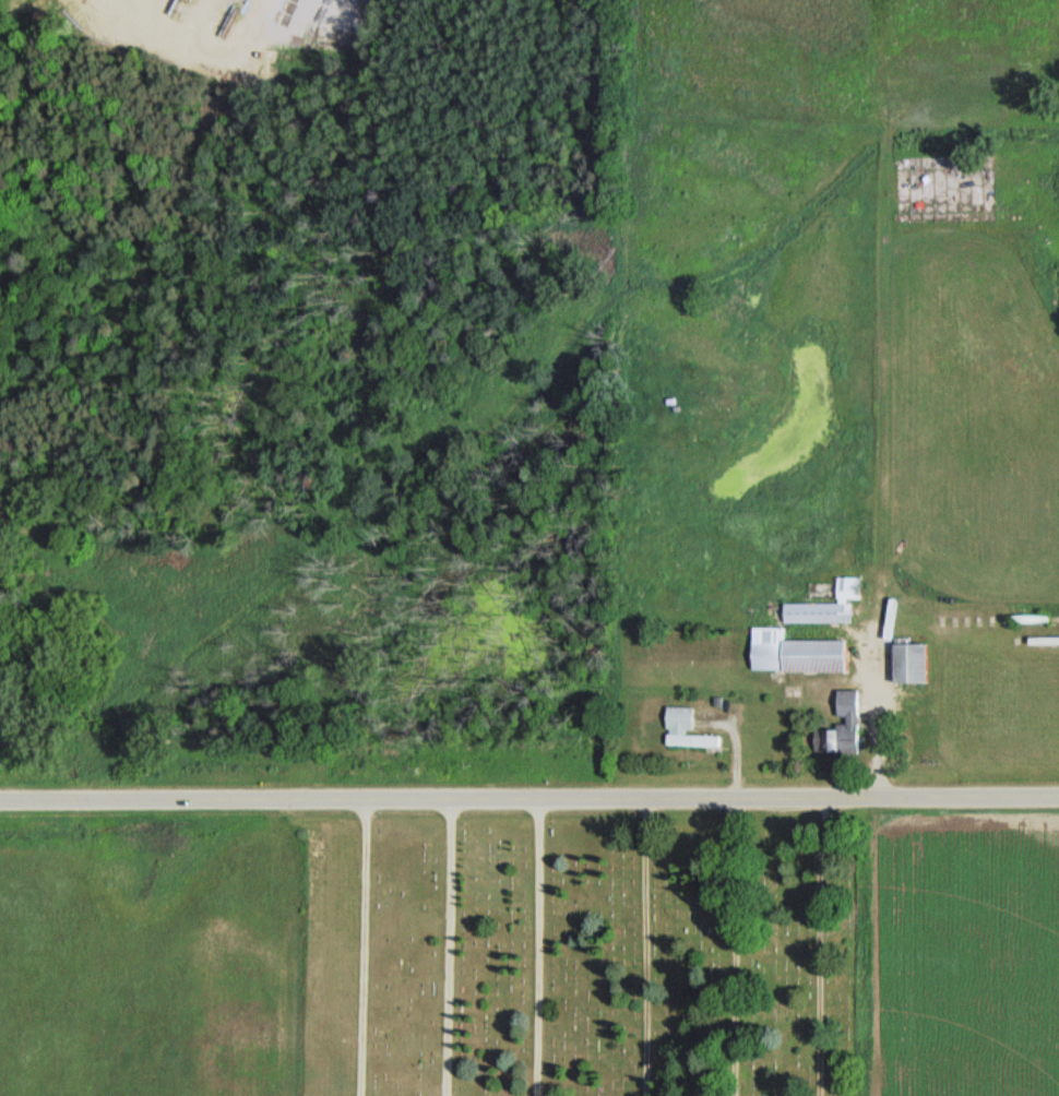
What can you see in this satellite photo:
building: (825, 606)
building: (793, 654)
building: (906, 664)
building: (849, 723)
building: (685, 730)
road: (846, 797)
road: (317, 800)
road: (728, 946)
road: (820, 946)
road: (364, 948)
road: (449, 948)
road: (540, 948)
road: (647, 948)
park: (584, 954)
building: (376, 1084)

